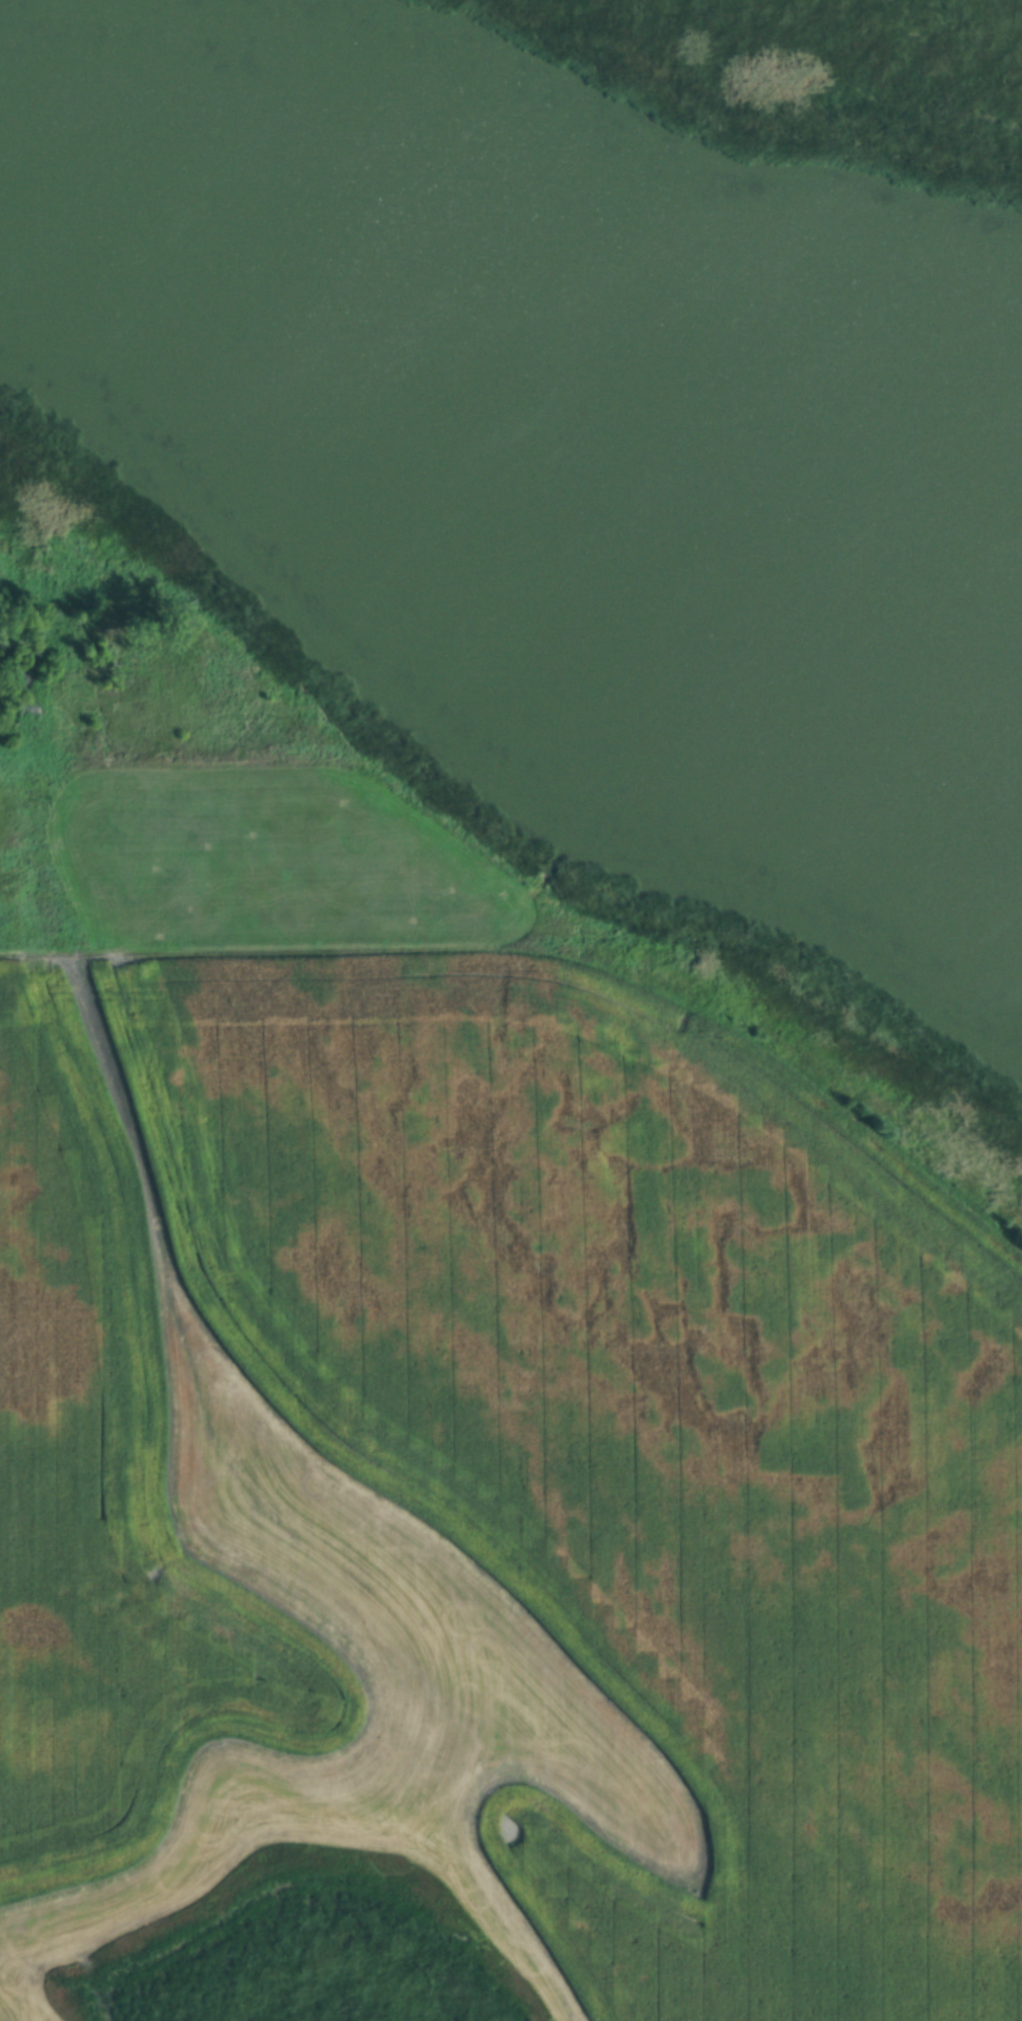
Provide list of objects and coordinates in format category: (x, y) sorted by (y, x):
road: (308, 958)
road: (833, 980)

